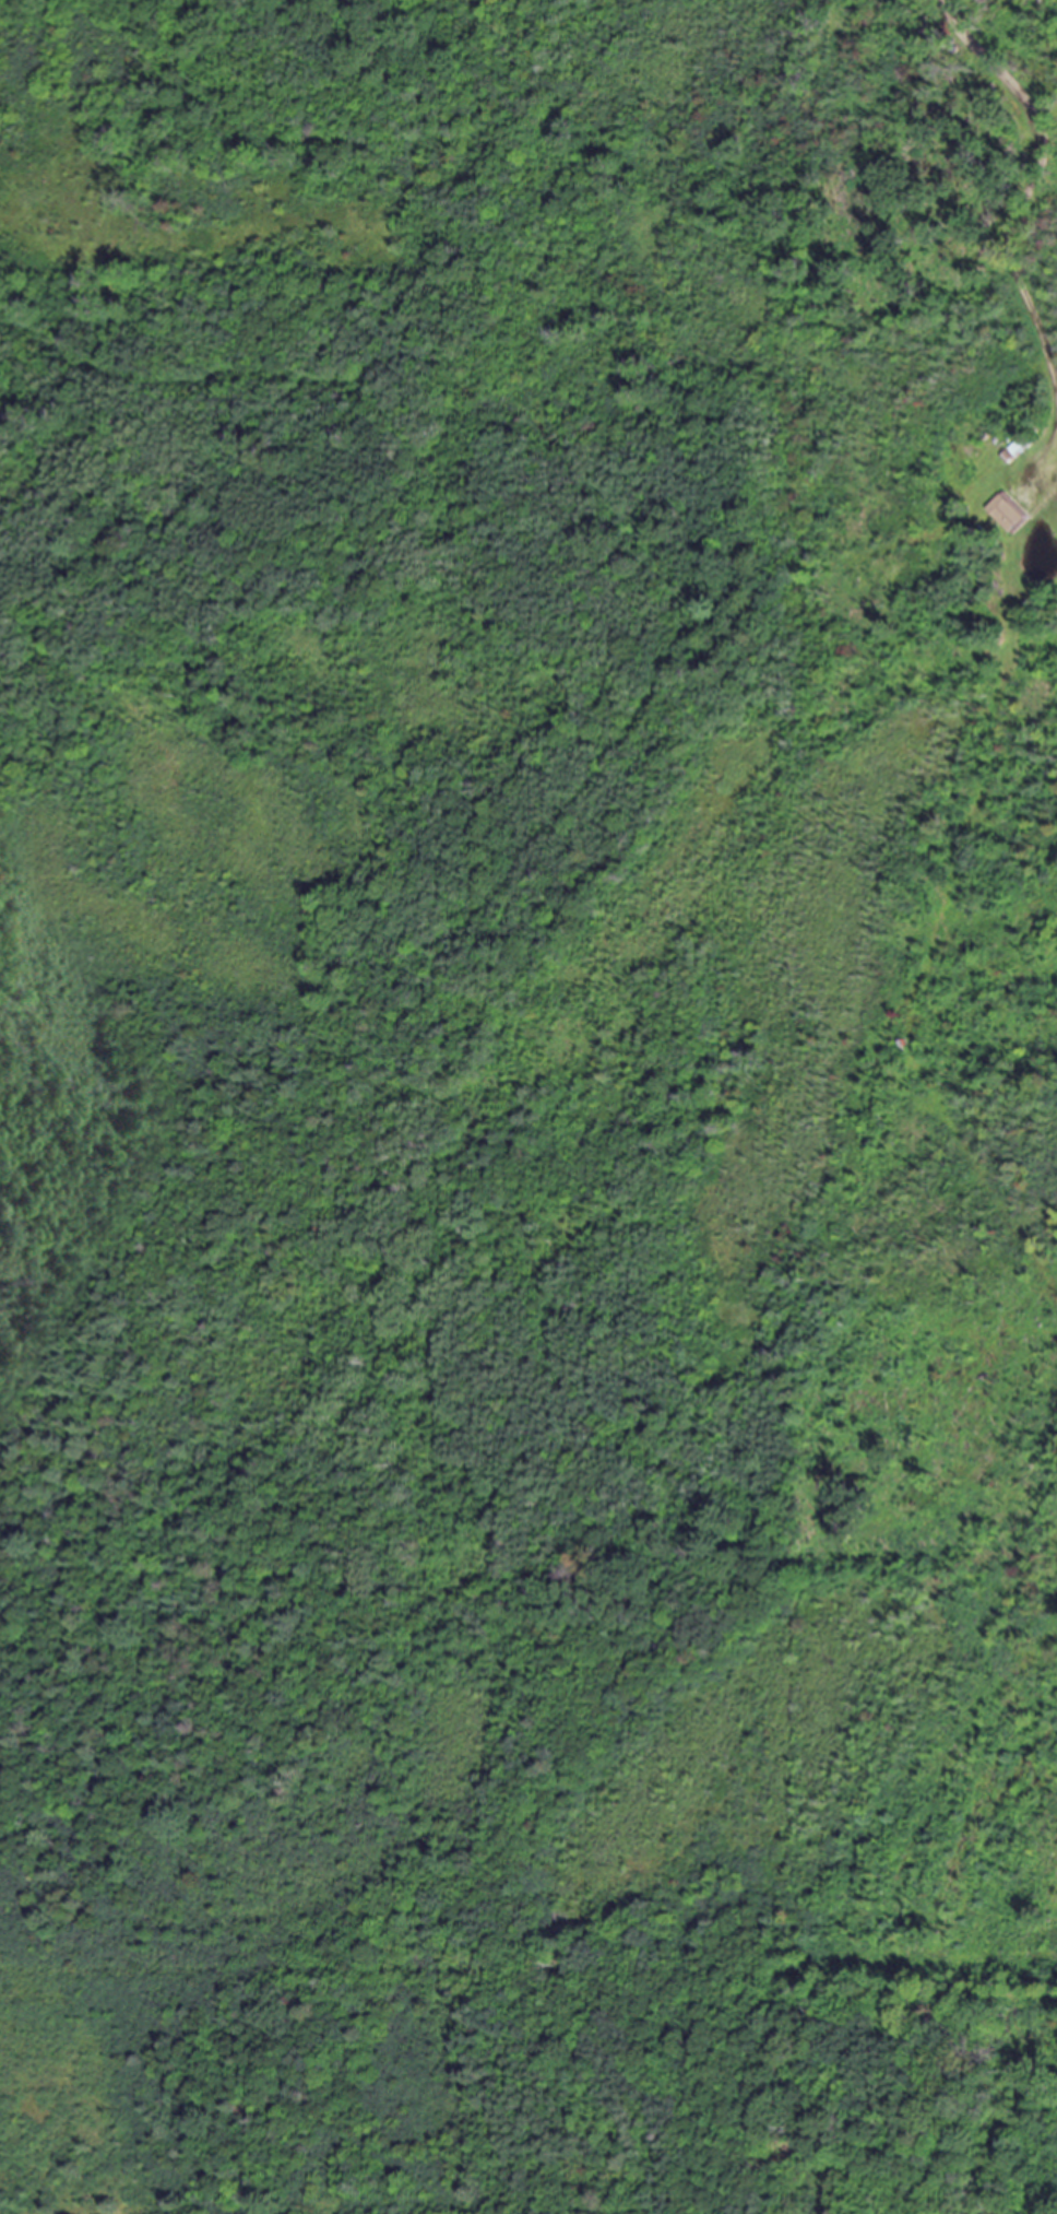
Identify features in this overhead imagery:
road: (1024, 192)
road: (1050, 445)
building: (1009, 513)

